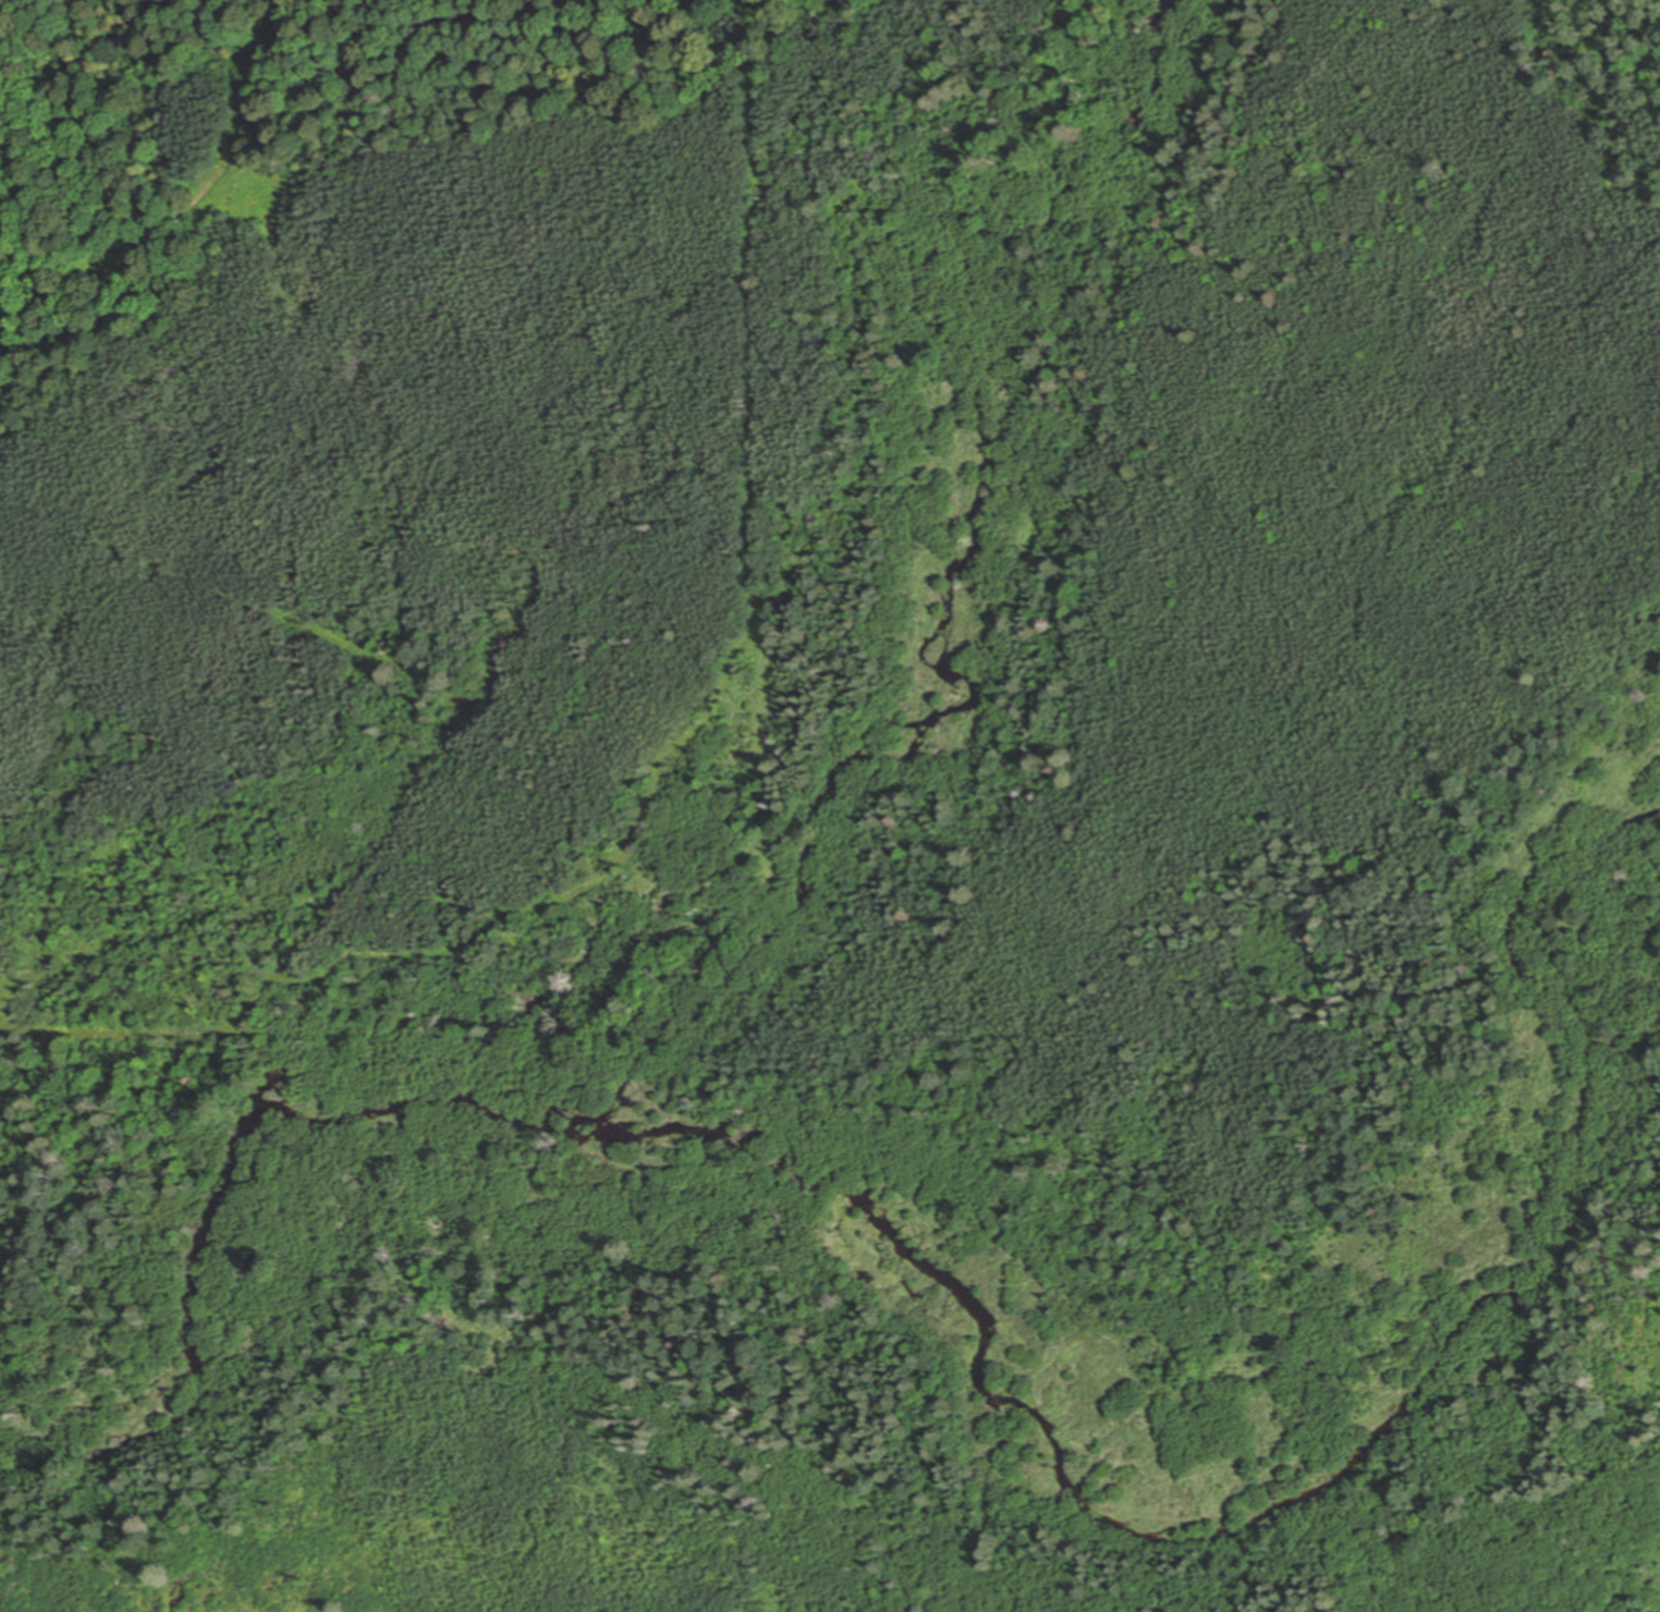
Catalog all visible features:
road: (190, 203)
river: (217, 1186)
river: (963, 1311)
river: (1358, 1538)

